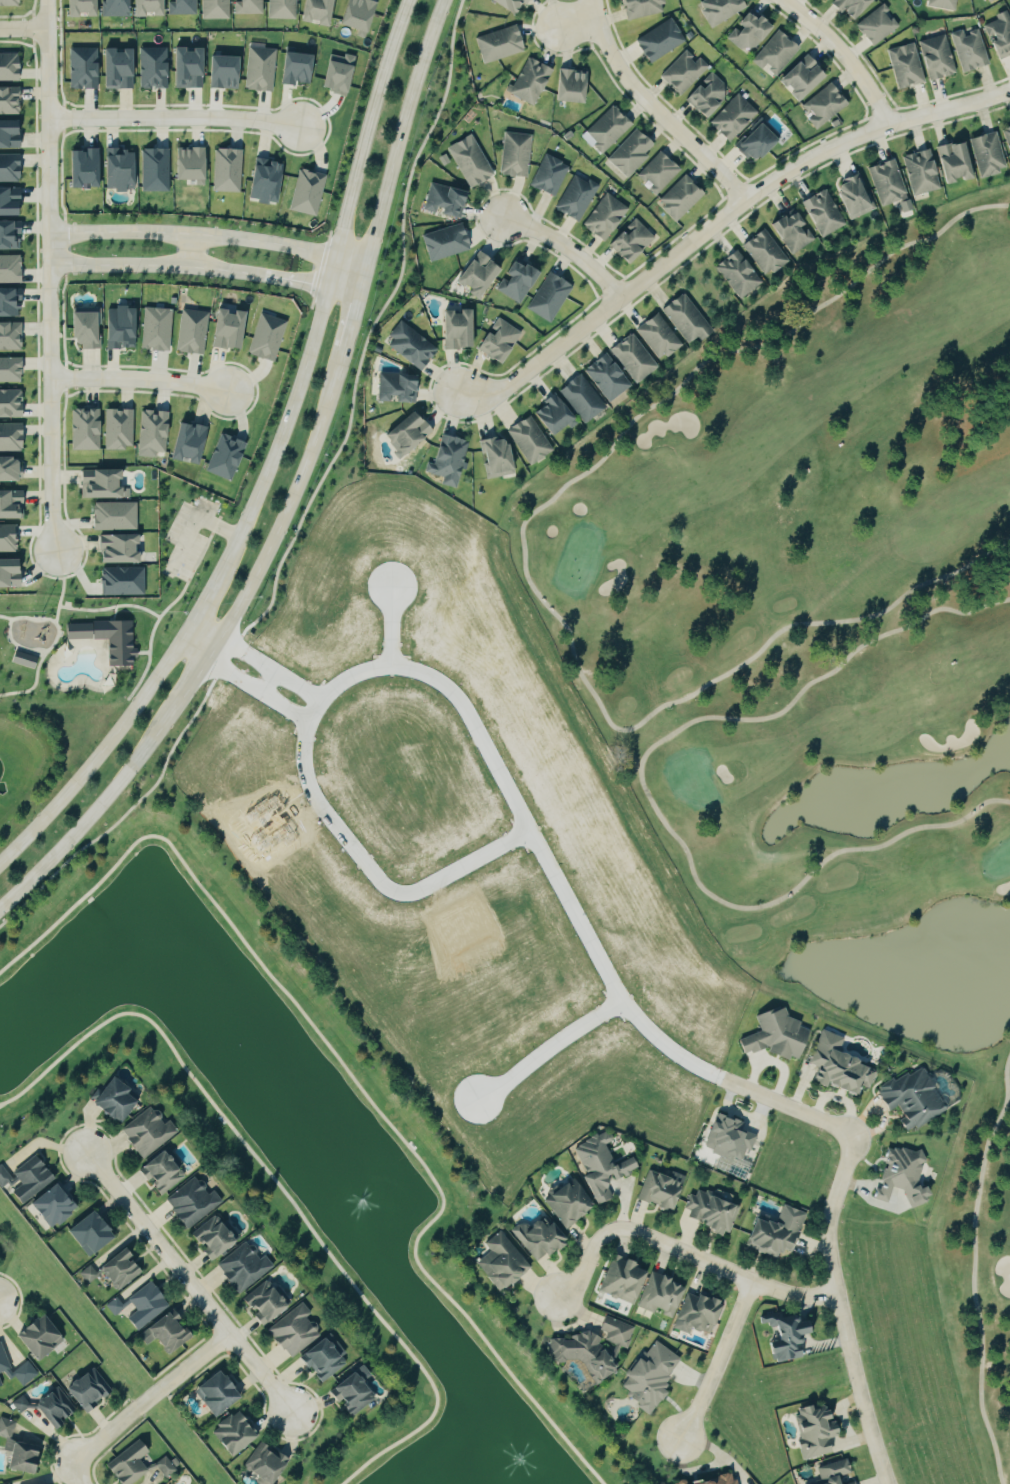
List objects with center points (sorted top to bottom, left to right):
building: (988, 0)
building: (7, 2)
building: (942, 3)
building: (507, 4)
road: (599, 5)
building: (179, 6)
building: (246, 6)
building: (849, 6)
building: (77, 7)
building: (112, 7)
building: (144, 7)
building: (640, 7)
building: (280, 8)
building: (213, 9)
building: (718, 9)
building: (1009, 9)
building: (313, 11)
building: (355, 14)
road: (578, 16)
building: (876, 24)
road: (26, 27)
building: (747, 30)
building: (998, 33)
building: (658, 39)
building: (498, 43)
building: (967, 48)
building: (774, 52)
road: (845, 55)
building: (935, 56)
building: (904, 64)
building: (7, 65)
building: (81, 67)
building: (150, 67)
building: (184, 67)
building: (294, 67)
building: (114, 68)
building: (259, 68)
building: (220, 70)
building: (681, 71)
building: (335, 72)
building: (799, 76)
building: (529, 80)
building: (568, 84)
building: (704, 94)
building: (9, 99)
building: (822, 104)
road: (661, 109)
road: (168, 114)
building: (731, 116)
road: (367, 126)
building: (606, 127)
building: (8, 133)
building: (1007, 135)
building: (754, 140)
building: (629, 152)
building: (514, 153)
building: (986, 153)
building: (468, 159)
building: (951, 161)
building: (187, 163)
building: (9, 167)
building: (81, 167)
building: (116, 169)
building: (153, 169)
building: (225, 169)
building: (657, 171)
building: (920, 171)
building: (548, 174)
building: (261, 180)
building: (888, 183)
building: (307, 192)
building: (574, 196)
building: (852, 196)
building: (679, 197)
building: (443, 199)
building: (9, 200)
road: (725, 207)
building: (822, 212)
building: (603, 216)
road: (195, 229)
building: (791, 231)
building: (9, 234)
building: (628, 240)
building: (444, 241)
road: (560, 249)
building: (764, 251)
road: (191, 264)
road: (350, 266)
building: (9, 268)
road: (332, 271)
building: (474, 273)
building: (737, 273)
road: (54, 275)
building: (514, 280)
road: (346, 282)
building: (548, 296)
building: (9, 301)
building: (685, 317)
building: (82, 327)
building: (117, 327)
building: (154, 328)
building: (224, 328)
building: (454, 328)
building: (190, 331)
building: (9, 335)
building: (657, 335)
building: (264, 336)
building: (496, 340)
building: (409, 345)
building: (632, 357)
building: (9, 369)
building: (605, 376)
road: (132, 381)
building: (395, 387)
building: (580, 397)
building: (10, 403)
building: (550, 413)
building: (82, 428)
building: (117, 429)
building: (150, 432)
building: (405, 432)
building: (10, 436)
building: (527, 439)
building: (185, 442)
building: (223, 456)
building: (493, 456)
building: (446, 459)
building: (10, 469)
building: (101, 483)
road: (293, 490)
building: (126, 492)
building: (10, 504)
building: (112, 515)
building: (7, 537)
building: (114, 548)
road: (524, 565)
building: (9, 573)
building: (120, 580)
road: (205, 598)
park: (106, 613)
road: (392, 628)
building: (105, 638)
road: (199, 642)
building: (23, 659)
park: (823, 680)
road: (262, 682)
road: (647, 792)
road: (321, 811)
road: (461, 870)
fountain: (77, 985)
building: (774, 1035)
fountain: (235, 1042)
road: (662, 1044)
road: (549, 1050)
road: (776, 1062)
building: (836, 1066)
road: (350, 1074)
building: (911, 1098)
building: (123, 1100)
building: (152, 1132)
building: (726, 1138)
building: (598, 1166)
building: (166, 1172)
building: (900, 1175)
building: (29, 1178)
road: (279, 1189)
building: (659, 1189)
fountain: (348, 1193)
building: (196, 1202)
building: (565, 1202)
building: (58, 1205)
building: (709, 1210)
building: (773, 1231)
building: (97, 1234)
building: (536, 1236)
building: (219, 1238)
road: (679, 1250)
building: (498, 1261)
building: (248, 1267)
building: (126, 1269)
road: (973, 1270)
building: (91, 1274)
building: (620, 1279)
road: (187, 1289)
building: (658, 1295)
building: (270, 1303)
building: (150, 1305)
building: (118, 1306)
building: (694, 1314)
building: (299, 1331)
building: (170, 1333)
building: (784, 1334)
building: (39, 1337)
building: (592, 1347)
building: (330, 1359)
road: (719, 1361)
building: (4, 1364)
building: (28, 1373)
building: (370, 1373)
building: (649, 1375)
building: (94, 1390)
building: (223, 1394)
building: (359, 1394)
road: (146, 1401)
building: (54, 1407)
building: (813, 1431)
building: (240, 1433)
fountain: (504, 1435)
building: (22, 1457)
building: (134, 1464)
building: (269, 1465)
building: (168, 1466)
building: (832, 1472)
road: (73, 1475)
building: (717, 1480)
building: (679, 1482)
building: (11, 1483)
building: (849, 1483)

